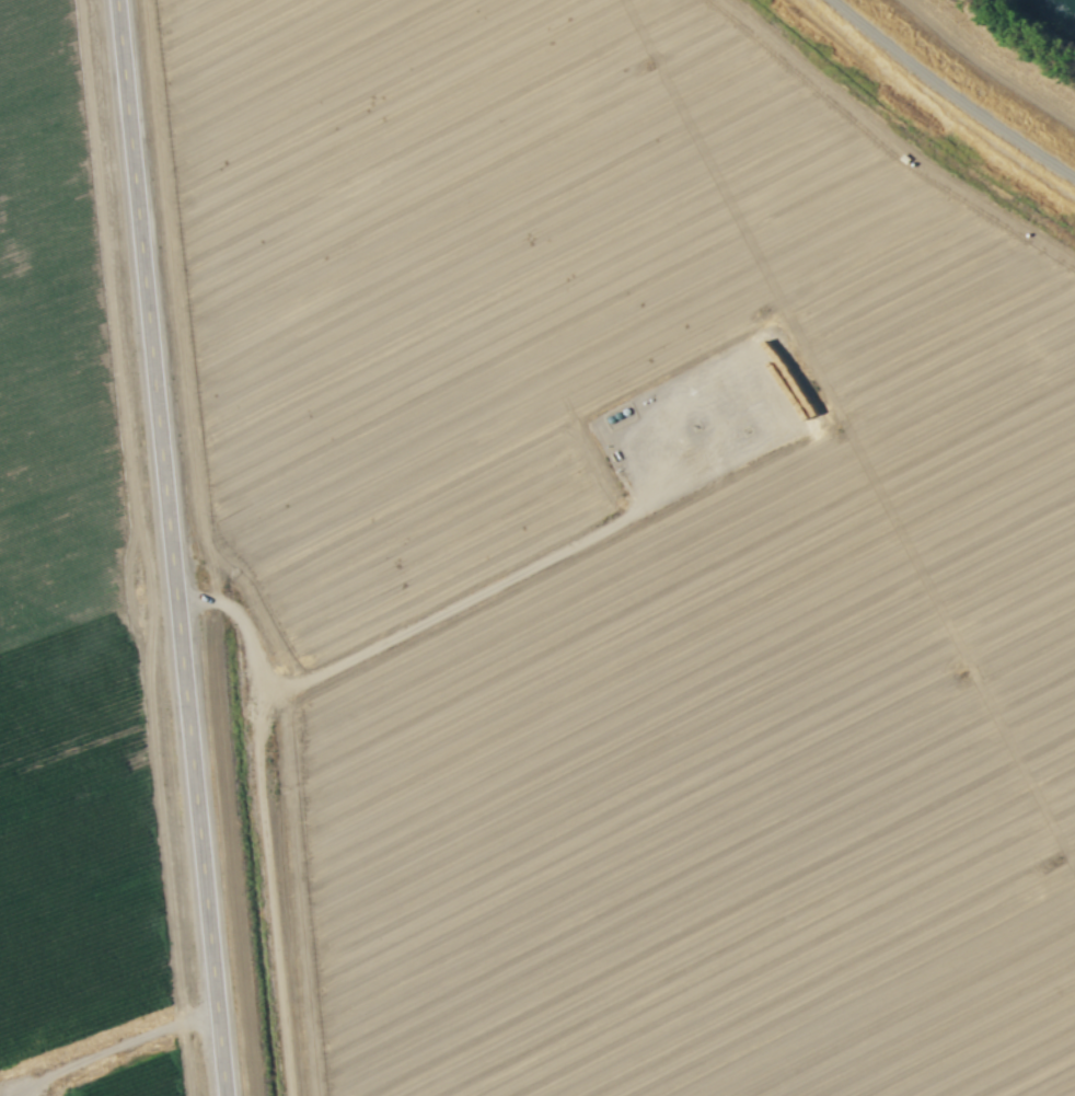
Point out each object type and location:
road: (953, 91)
road: (171, 547)

